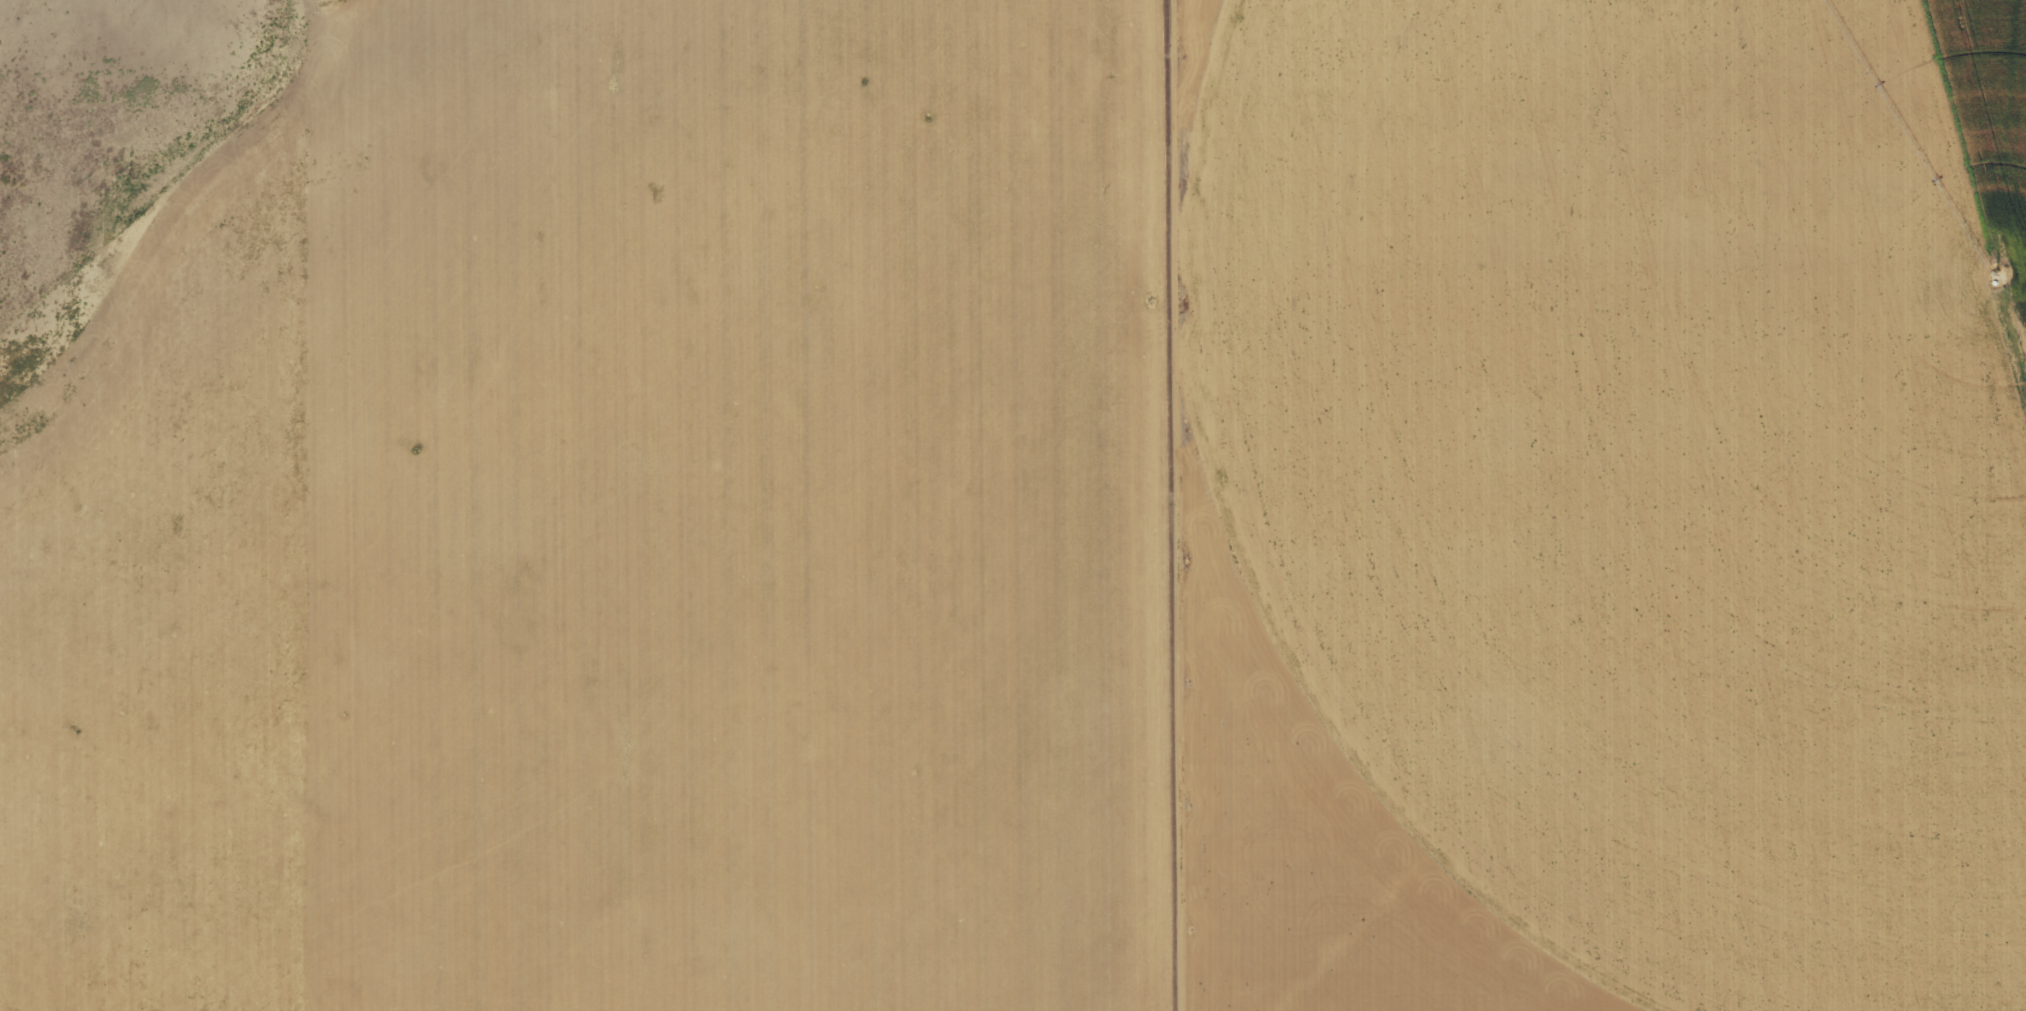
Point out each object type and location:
road: (1160, 505)

